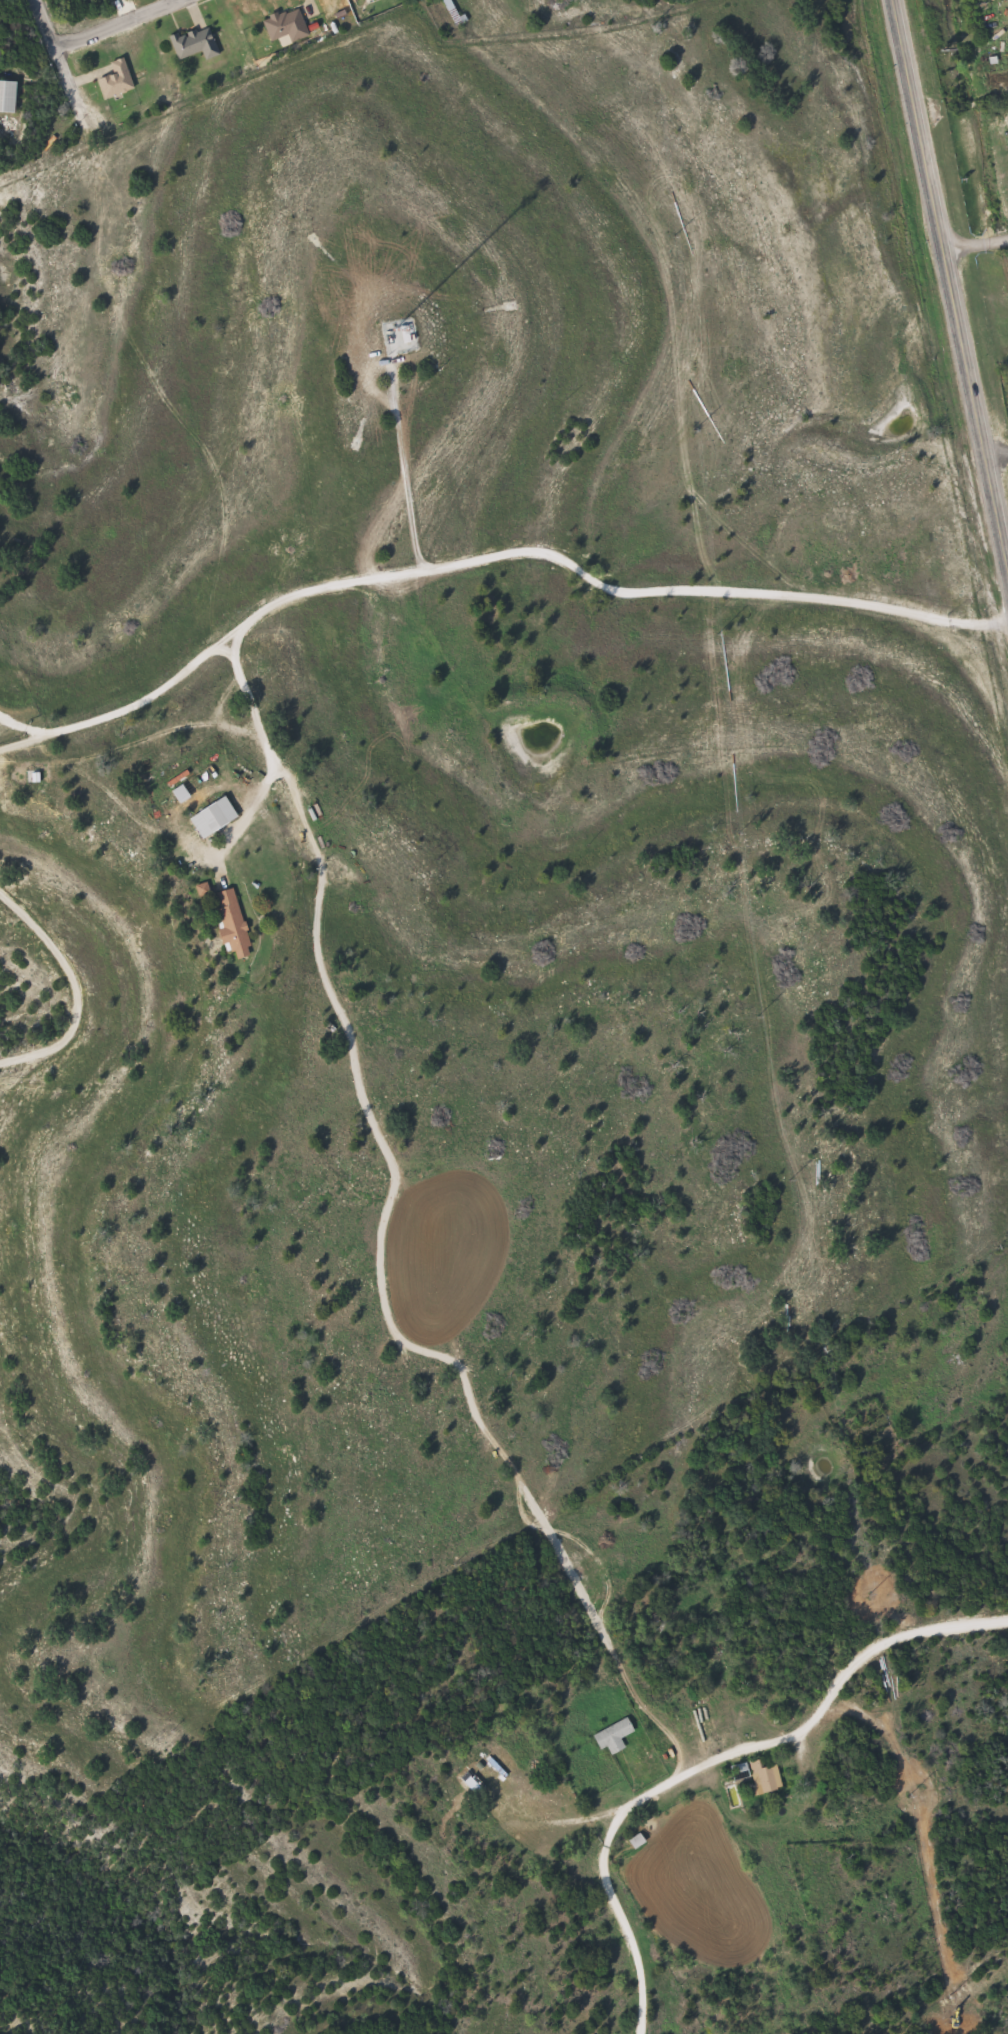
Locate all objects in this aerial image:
building: (454, 11)
road: (117, 26)
building: (287, 26)
road: (479, 36)
building: (196, 44)
road: (55, 55)
building: (117, 81)
building: (9, 96)
road: (973, 242)
road: (948, 292)
road: (488, 555)
road: (23, 722)
road: (268, 754)
building: (217, 818)
building: (234, 923)
road: (80, 985)
building: (618, 1736)
road: (716, 1765)
building: (763, 1776)

